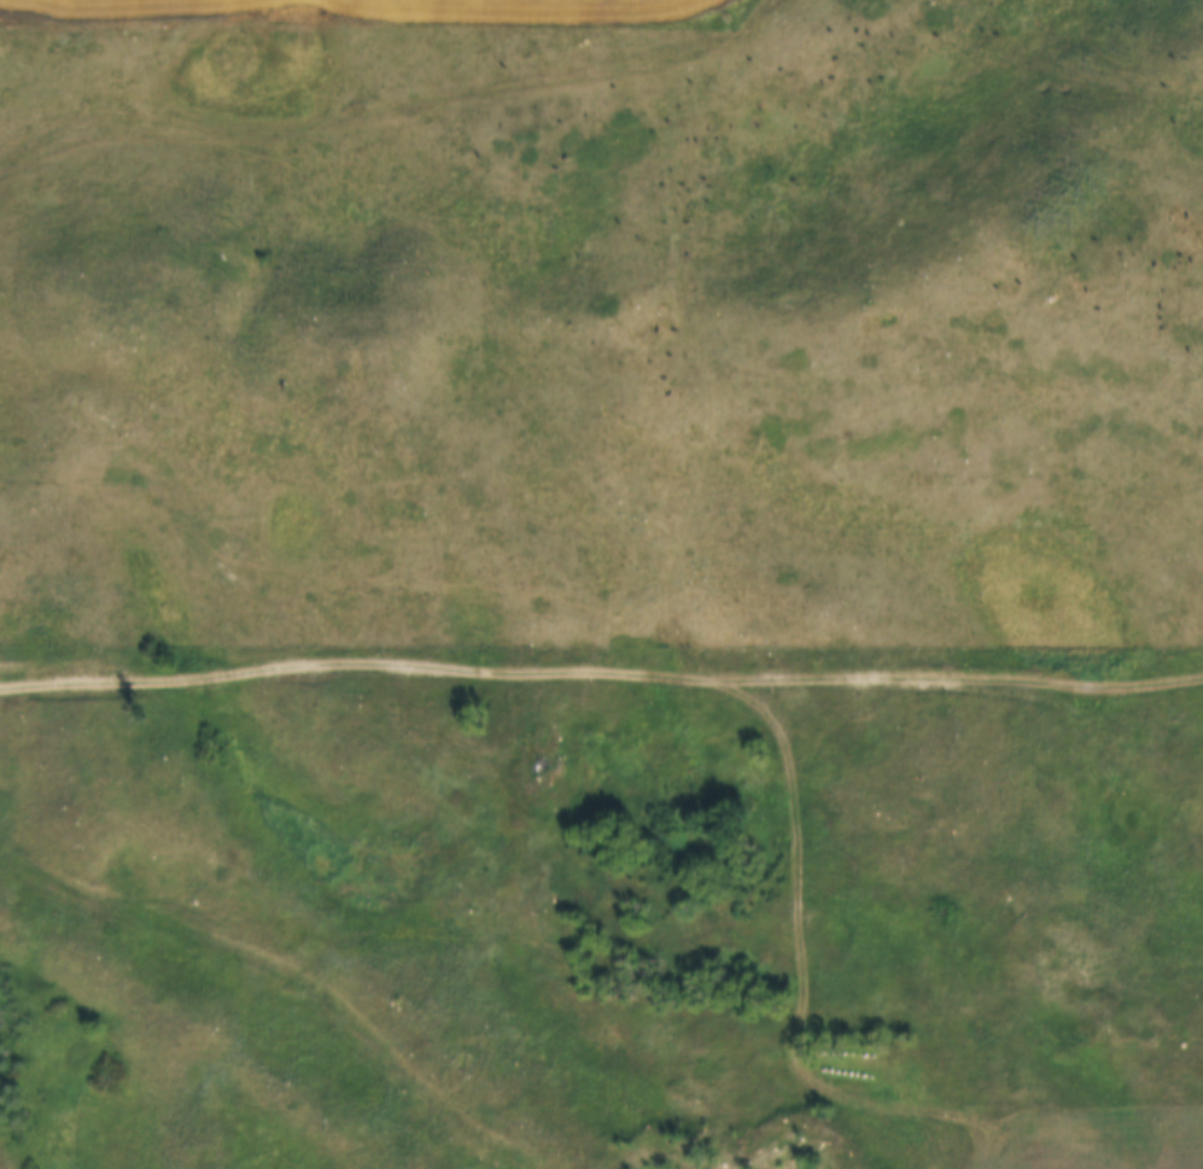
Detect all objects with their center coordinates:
road: (601, 670)
road: (799, 838)
quarry: (746, 1145)

